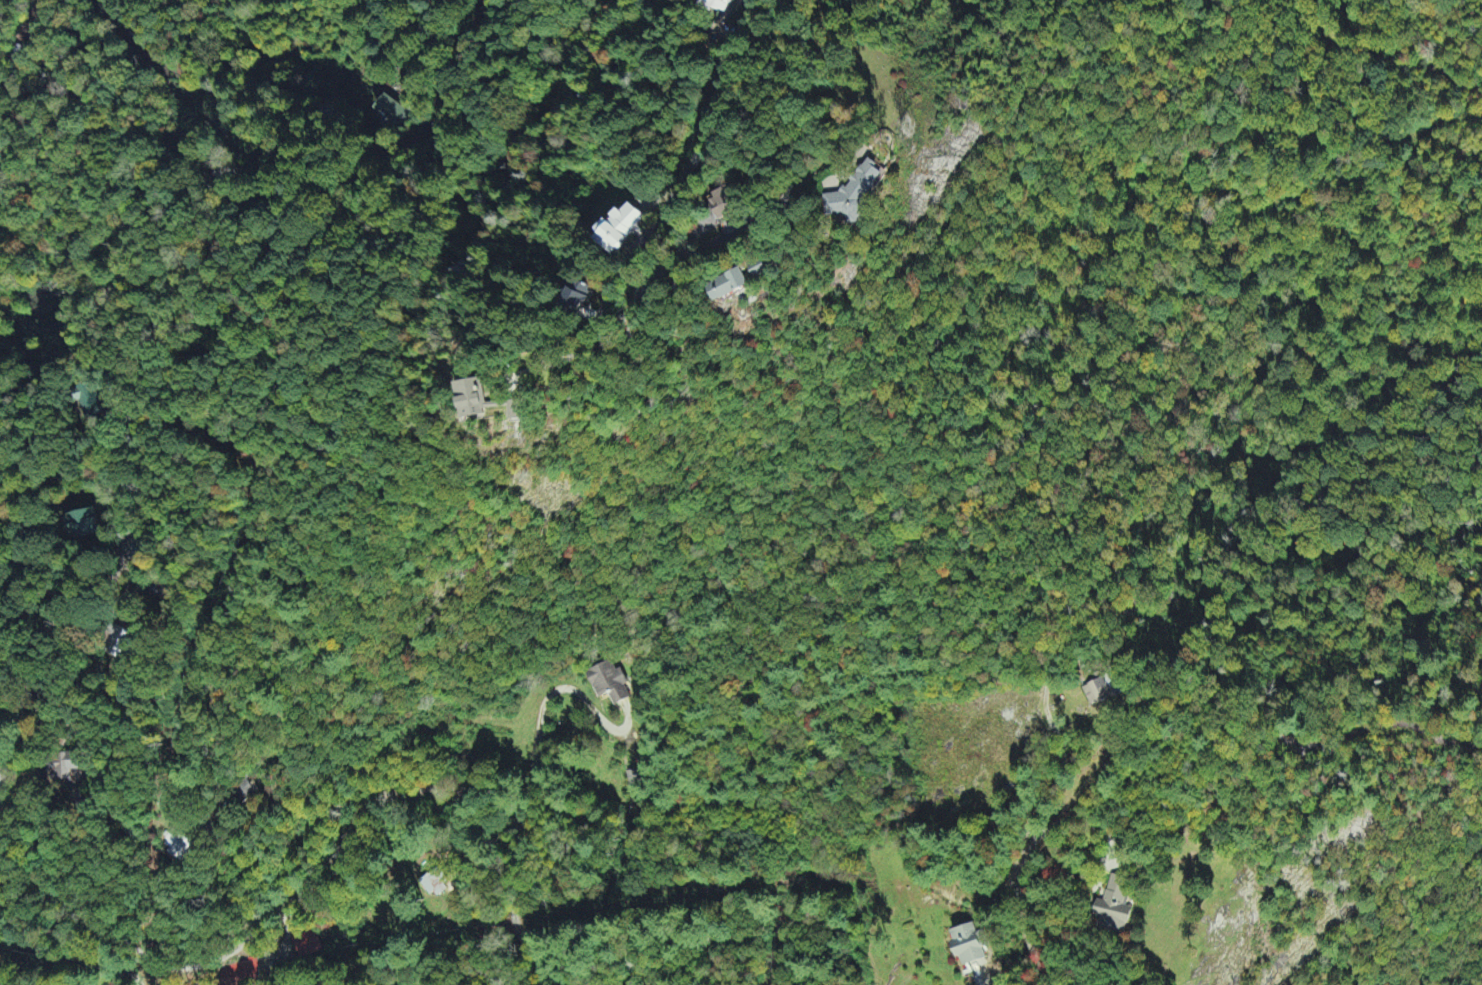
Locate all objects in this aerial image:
building: (719, 4)
road: (9, 38)
building: (391, 113)
building: (852, 198)
road: (73, 200)
building: (721, 207)
building: (619, 230)
building: (724, 289)
road: (160, 299)
building: (575, 300)
road: (554, 387)
building: (90, 400)
building: (473, 401)
building: (516, 413)
building: (84, 526)
building: (609, 683)
building: (1098, 692)
road: (1380, 727)
road: (502, 757)
building: (64, 767)
building: (638, 779)
road: (1239, 792)
building: (178, 847)
building: (434, 884)
road: (1224, 886)
building: (1114, 905)
road: (181, 921)
building: (969, 945)

